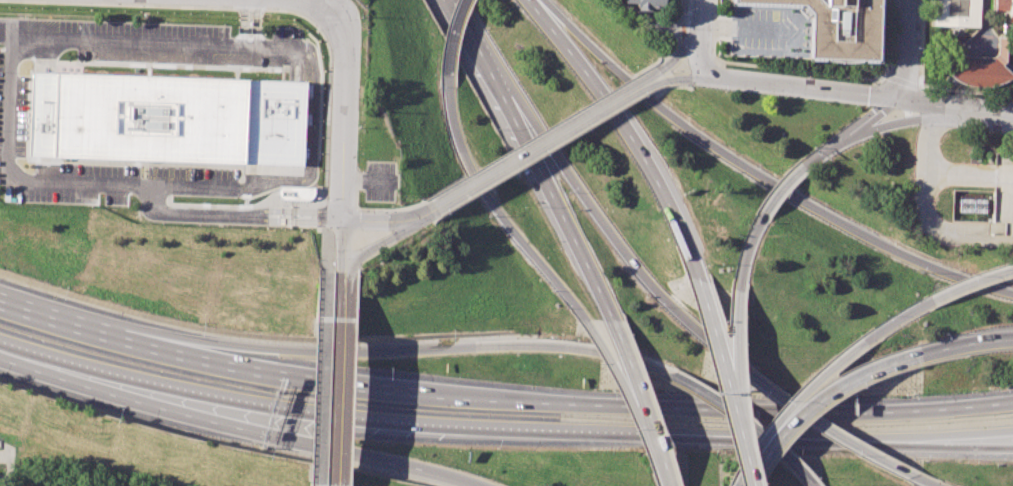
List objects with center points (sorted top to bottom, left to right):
park: (325, 3)
building: (647, 4)
road: (323, 5)
road: (701, 8)
building: (1004, 8)
building: (956, 14)
road: (463, 18)
road: (250, 22)
building: (838, 27)
street lamp: (683, 28)
road: (748, 28)
road: (679, 37)
road: (456, 39)
road: (885, 39)
road: (171, 44)
street lamp: (921, 46)
road: (685, 48)
road: (903, 49)
road: (693, 50)
road: (701, 51)
road: (921, 61)
road: (770, 66)
building: (983, 68)
street lamp: (808, 75)
road: (693, 78)
street lamp: (921, 81)
road: (811, 90)
road: (967, 90)
street lamp: (723, 91)
street lamp: (671, 103)
street lamp: (864, 106)
road: (956, 110)
road: (344, 112)
road: (10, 113)
parking lot: (14, 117)
road: (872, 118)
building: (168, 119)
road: (893, 121)
road: (544, 132)
street lamp: (988, 133)
road: (549, 143)
road: (825, 151)
road: (295, 174)
road: (936, 174)
road: (251, 178)
road: (369, 180)
parking lot: (381, 182)
road: (550, 187)
road: (784, 189)
road: (237, 190)
building: (295, 193)
road: (340, 206)
road: (394, 210)
road: (499, 210)
road: (598, 214)
road: (213, 215)
road: (325, 216)
road: (319, 218)
road: (389, 220)
road: (945, 233)
road: (388, 237)
road: (343, 245)
road: (326, 248)
road: (748, 252)
road: (972, 285)
road: (72, 320)
road: (899, 320)
road: (738, 340)
road: (409, 346)
road: (967, 346)
road: (69, 368)
road: (296, 375)
road: (323, 378)
road: (342, 378)
road: (627, 383)
road: (808, 392)
road: (835, 393)
road: (732, 408)
road: (653, 411)
road: (743, 415)
road: (830, 427)
road: (547, 428)
road: (745, 437)
road: (985, 438)
road: (308, 442)
road: (985, 443)
street lamp: (940, 460)
road: (9, 466)
road: (758, 472)
road: (811, 479)
road: (927, 481)

